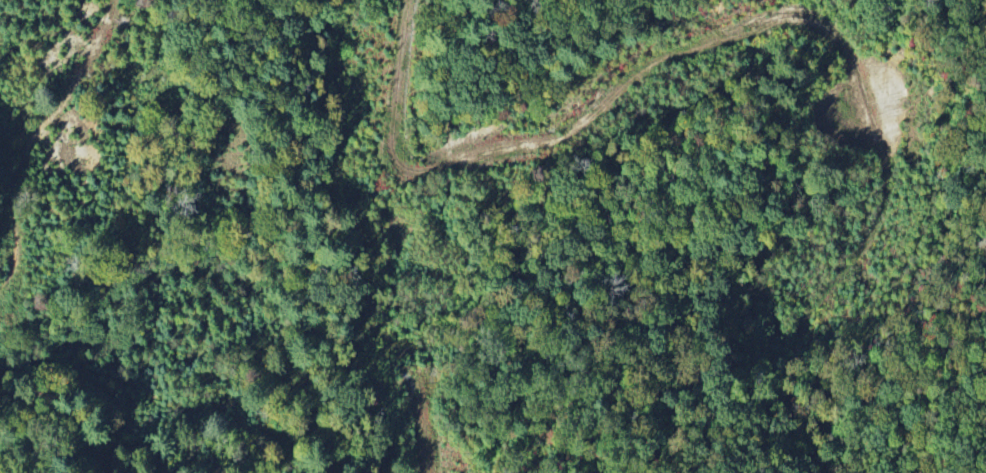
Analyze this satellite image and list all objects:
road: (806, 25)
road: (406, 237)

